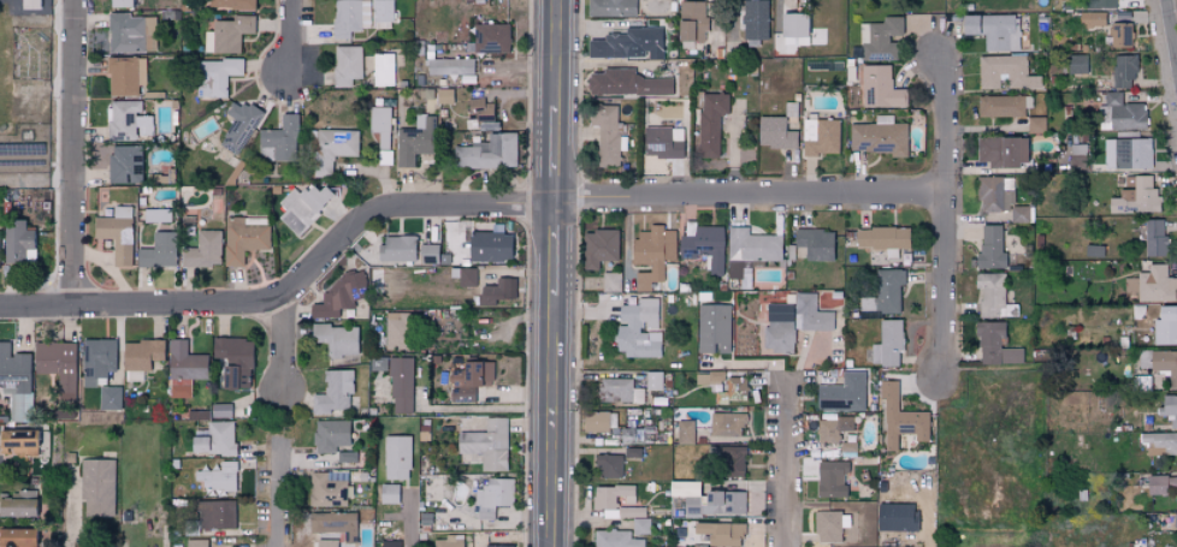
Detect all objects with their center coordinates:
building: (30, 4)
building: (119, 4)
building: (1099, 4)
building: (231, 5)
building: (611, 7)
building: (359, 14)
building: (755, 19)
building: (1090, 19)
building: (691, 20)
building: (791, 26)
building: (993, 30)
building: (126, 34)
building: (227, 34)
building: (1120, 34)
road: (1170, 37)
road: (291, 38)
building: (490, 38)
building: (880, 38)
building: (627, 43)
road: (557, 53)
building: (1077, 64)
building: (347, 65)
building: (451, 66)
building: (383, 70)
building: (1123, 71)
building: (1005, 72)
building: (125, 76)
building: (214, 77)
building: (626, 83)
building: (879, 88)
building: (443, 95)
building: (1001, 106)
building: (480, 109)
building: (1119, 113)
building: (128, 120)
building: (710, 123)
building: (1035, 124)
building: (238, 125)
building: (380, 125)
building: (605, 132)
building: (774, 132)
building: (820, 136)
building: (880, 137)
building: (280, 139)
building: (414, 141)
building: (662, 142)
building: (332, 148)
building: (1001, 150)
road: (79, 151)
road: (556, 151)
building: (487, 153)
building: (1126, 154)
building: (384, 156)
building: (125, 163)
road: (39, 179)
road: (751, 194)
building: (1136, 197)
building: (302, 207)
building: (1019, 214)
road: (946, 218)
building: (116, 234)
building: (1153, 238)
building: (244, 239)
building: (882, 239)
building: (18, 243)
building: (815, 243)
building: (703, 245)
building: (752, 245)
building: (489, 246)
road: (555, 246)
building: (396, 248)
building: (598, 248)
building: (990, 248)
building: (158, 250)
building: (205, 250)
building: (427, 254)
building: (652, 254)
building: (465, 277)
building: (610, 281)
building: (1155, 285)
road: (292, 290)
building: (493, 292)
building: (885, 292)
building: (989, 295)
building: (337, 297)
building: (795, 323)
building: (1165, 326)
building: (712, 328)
building: (638, 329)
building: (396, 331)
building: (336, 338)
road: (283, 344)
building: (887, 344)
building: (995, 345)
building: (142, 353)
building: (100, 357)
building: (233, 362)
building: (57, 364)
building: (1165, 364)
building: (184, 368)
building: (709, 377)
building: (469, 379)
building: (653, 380)
building: (14, 381)
building: (401, 385)
building: (335, 391)
building: (619, 391)
building: (732, 391)
building: (842, 394)
building: (111, 398)
road: (480, 408)
building: (220, 410)
road: (279, 414)
building: (900, 418)
building: (598, 421)
road: (552, 422)
building: (727, 424)
building: (833, 429)
building: (685, 432)
building: (330, 435)
building: (215, 439)
building: (18, 442)
building: (1160, 442)
building: (486, 445)
building: (397, 457)
building: (724, 462)
building: (608, 466)
road: (786, 468)
building: (218, 476)
building: (830, 480)
building: (1171, 481)
building: (1155, 484)
building: (97, 487)
building: (329, 490)
road: (276, 492)
building: (390, 493)
building: (493, 497)
building: (706, 500)
building: (17, 505)
road: (70, 506)
building: (215, 515)
building: (895, 517)
road: (414, 519)
building: (1176, 519)
building: (336, 524)
building: (640, 525)
building: (827, 527)
building: (721, 534)
building: (16, 537)
building: (616, 539)
building: (1176, 539)
road: (925, 540)
building: (196, 543)
building: (326, 543)
building: (389, 543)
building: (446, 543)
building: (498, 546)

